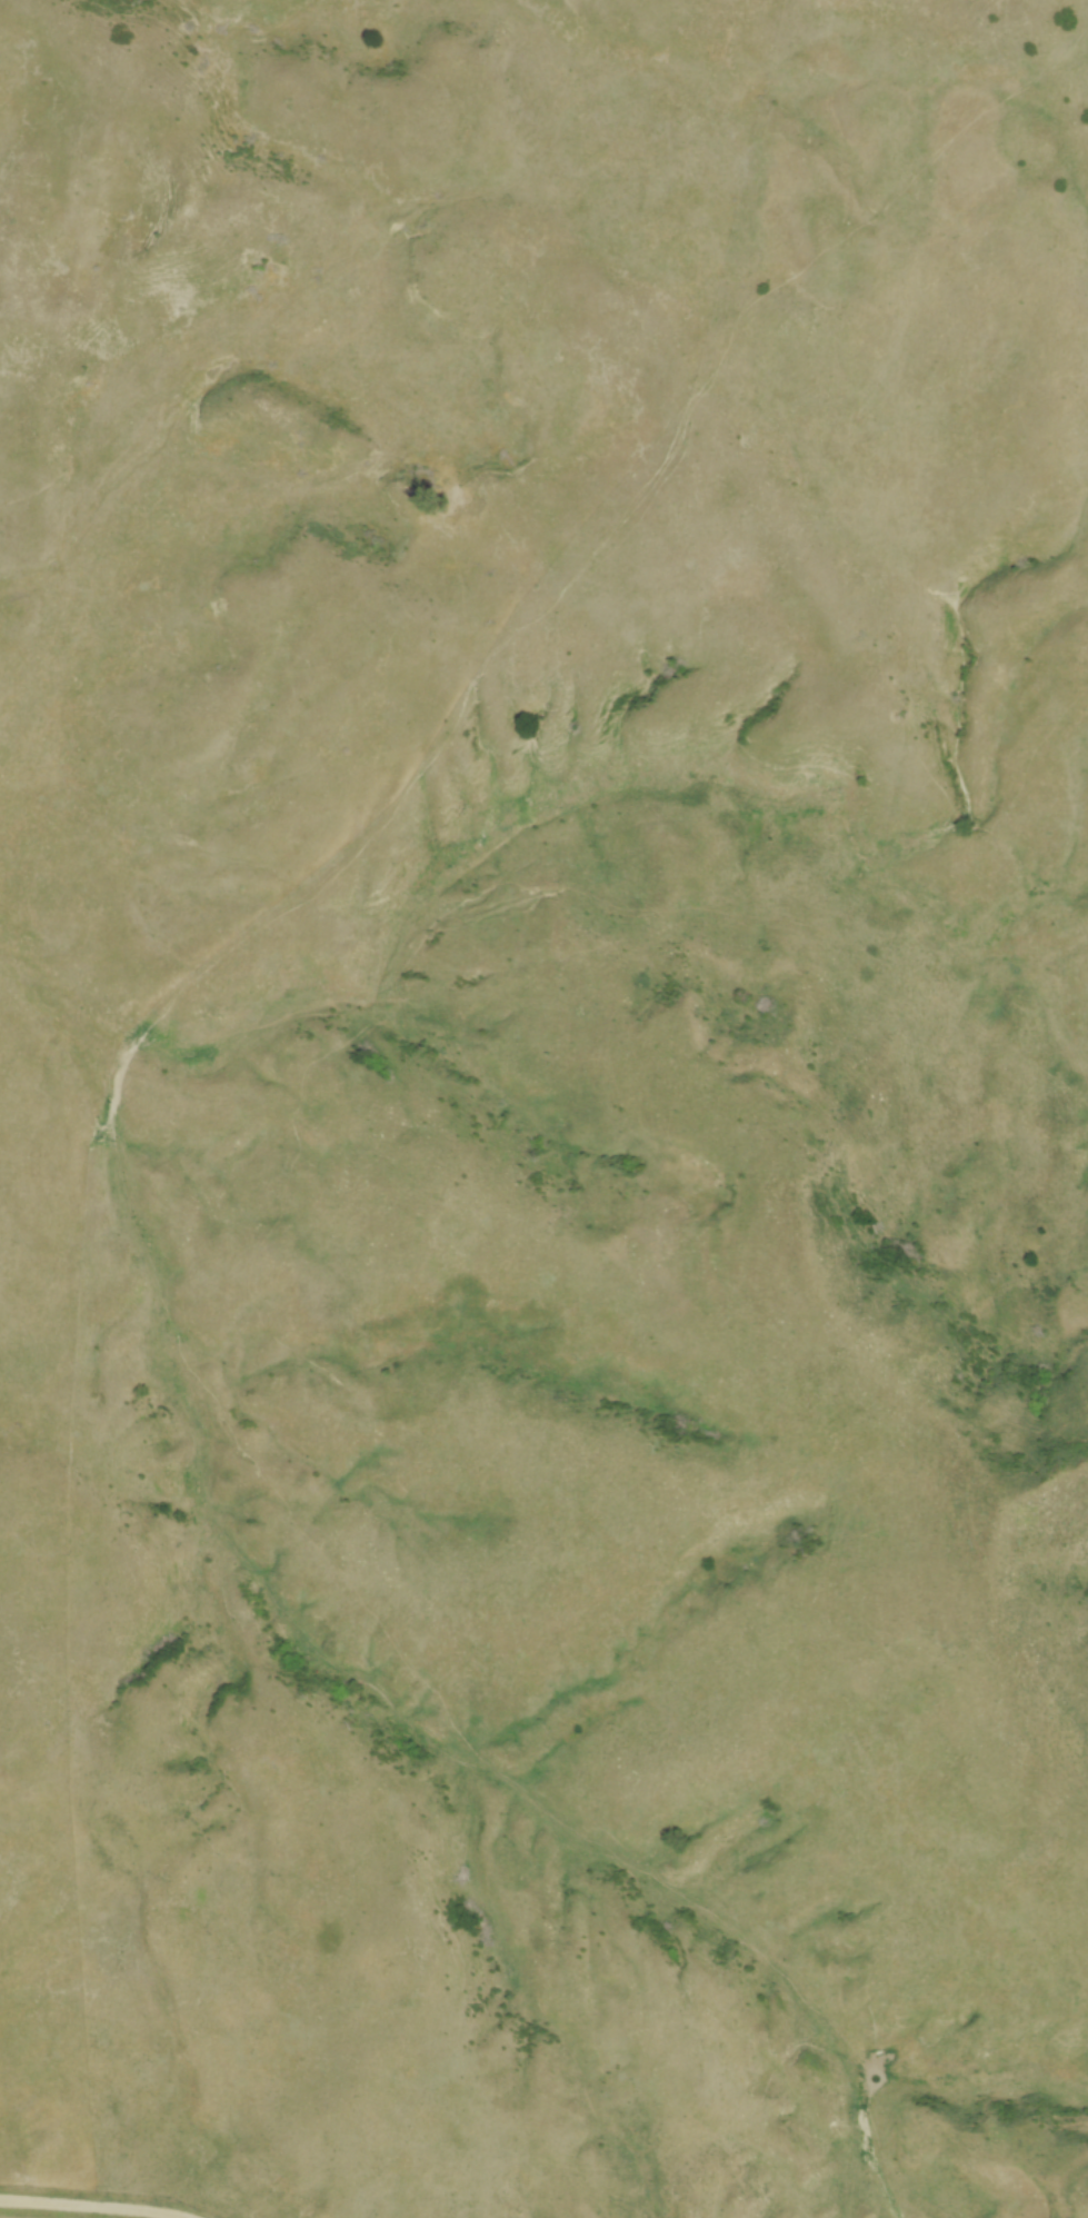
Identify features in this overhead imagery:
road: (90, 2206)

